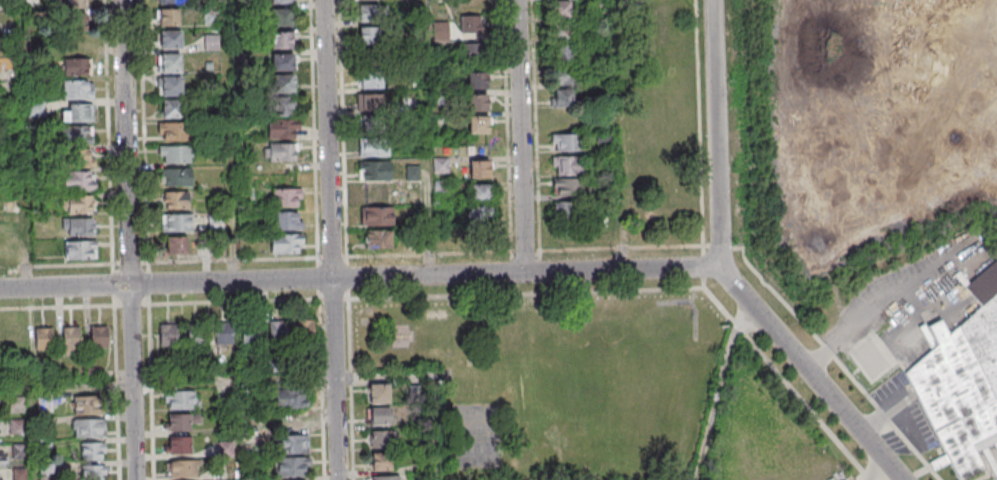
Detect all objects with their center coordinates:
building: (167, 1)
building: (280, 1)
building: (75, 3)
building: (560, 9)
building: (600, 10)
building: (369, 12)
building: (166, 17)
building: (282, 17)
building: (76, 21)
building: (471, 23)
building: (560, 32)
building: (367, 35)
building: (169, 39)
building: (282, 39)
building: (211, 42)
building: (471, 51)
building: (561, 60)
building: (169, 62)
building: (283, 62)
building: (77, 67)
building: (371, 78)
building: (477, 80)
building: (169, 85)
building: (77, 89)
building: (561, 98)
building: (369, 101)
building: (479, 102)
building: (281, 107)
building: (170, 108)
building: (36, 109)
building: (77, 113)
building: (373, 124)
building: (479, 124)
building: (282, 128)
building: (173, 131)
road: (714, 131)
road: (109, 132)
road: (619, 133)
building: (75, 134)
road: (519, 136)
road: (426, 138)
road: (229, 141)
building: (566, 142)
road: (21, 144)
building: (373, 147)
building: (280, 151)
building: (174, 153)
building: (79, 158)
building: (440, 165)
building: (566, 165)
building: (479, 168)
building: (373, 170)
building: (176, 177)
building: (78, 180)
building: (567, 187)
building: (480, 192)
building: (286, 197)
building: (176, 199)
building: (78, 203)
building: (565, 210)
building: (480, 214)
building: (376, 215)
building: (286, 220)
building: (176, 222)
building: (78, 226)
building: (378, 238)
road: (127, 240)
road: (333, 240)
building: (286, 243)
building: (175, 245)
building: (80, 249)
road: (336, 257)
road: (234, 260)
road: (132, 263)
road: (56, 265)
road: (358, 278)
building: (980, 282)
road: (149, 284)
road: (234, 302)
road: (74, 307)
building: (276, 329)
building: (304, 330)
building: (936, 330)
building: (250, 333)
building: (223, 334)
building: (167, 335)
building: (197, 335)
building: (99, 338)
building: (44, 339)
building: (70, 340)
road: (807, 371)
road: (168, 380)
road: (430, 380)
park: (561, 381)
building: (961, 385)
road: (322, 389)
road: (152, 392)
road: (117, 393)
building: (378, 394)
building: (290, 397)
building: (180, 401)
building: (87, 405)
building: (379, 417)
building: (177, 423)
building: (89, 427)
road: (235, 429)
road: (30, 432)
building: (381, 440)
building: (298, 443)
building: (178, 445)
building: (92, 451)
building: (3, 458)
building: (381, 462)
building: (295, 466)
building: (181, 468)
building: (94, 472)
building: (19, 473)
building: (387, 478)

